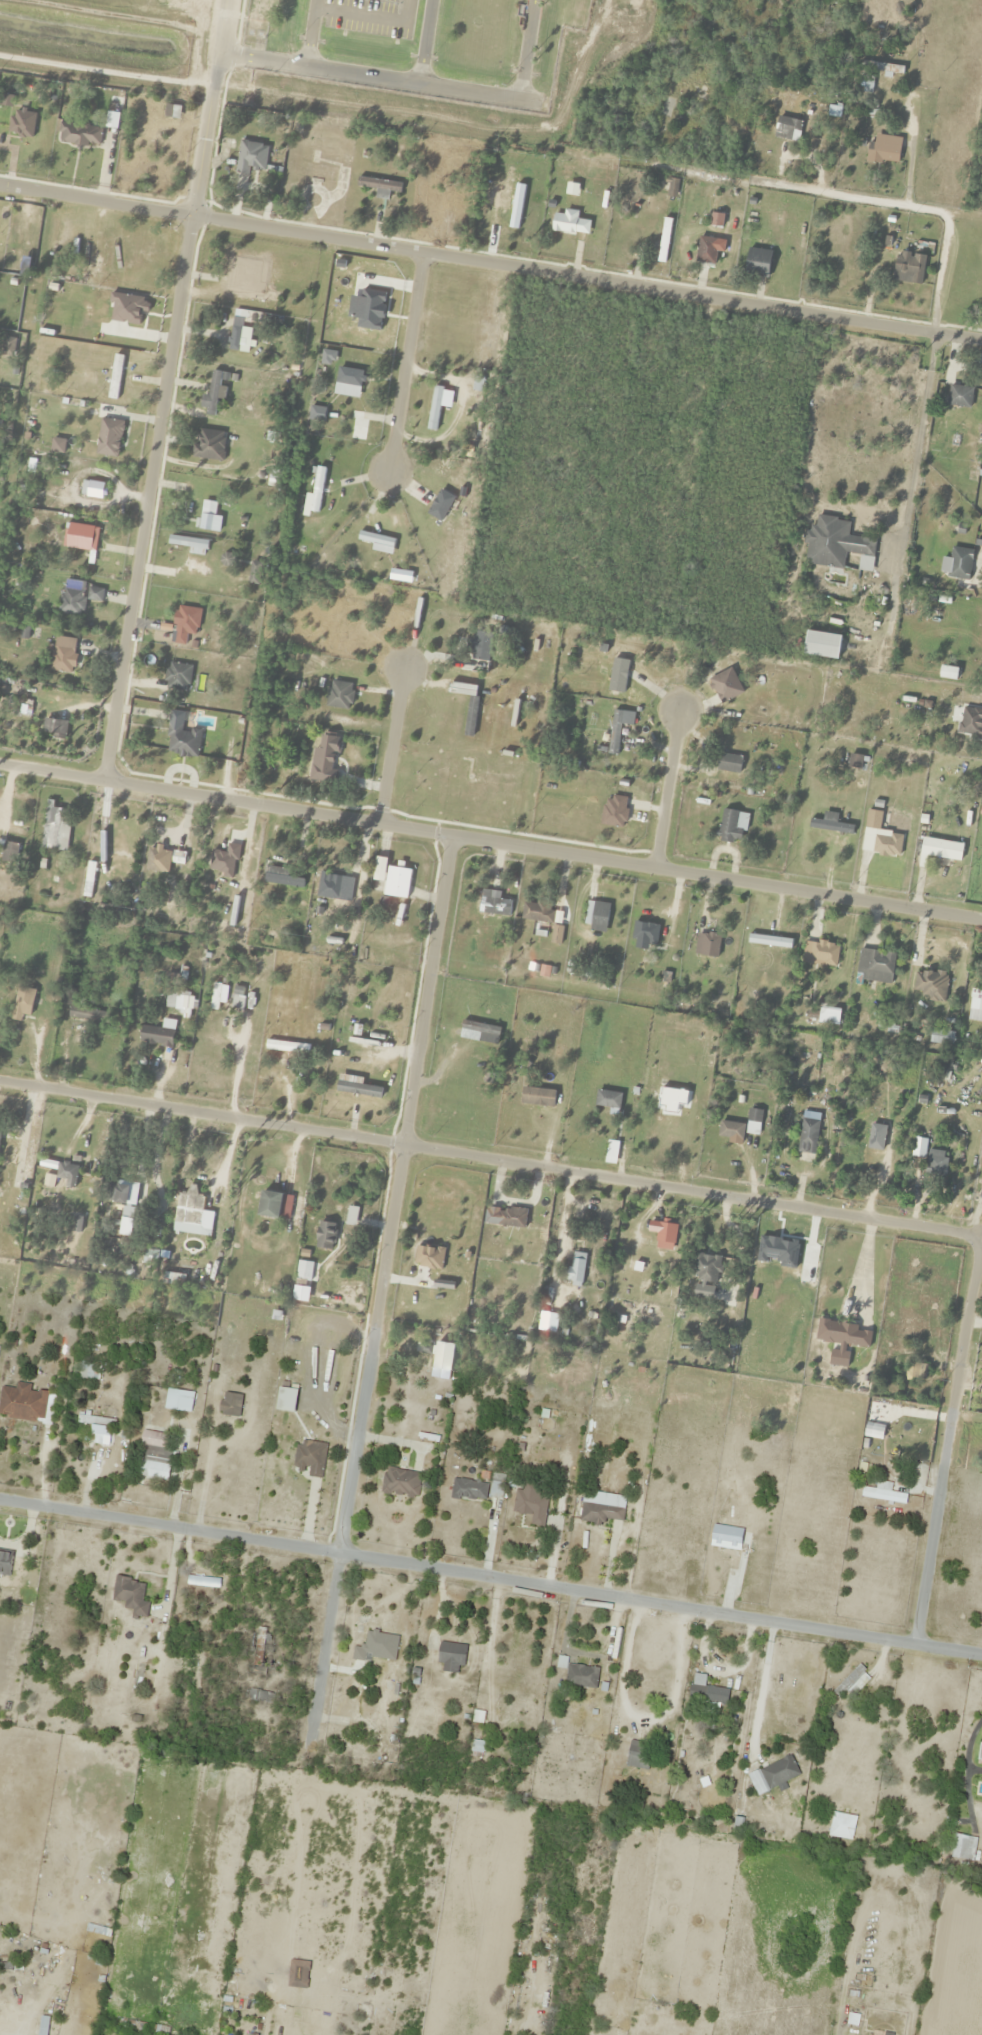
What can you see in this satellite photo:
road: (366, 12)
road: (308, 35)
road: (423, 44)
road: (522, 50)
building: (888, 68)
road: (373, 81)
building: (866, 86)
building: (686, 90)
road: (208, 108)
building: (787, 129)
building: (78, 134)
building: (882, 150)
building: (250, 157)
building: (379, 186)
building: (315, 190)
building: (500, 192)
road: (855, 199)
building: (565, 221)
building: (706, 250)
building: (757, 262)
road: (490, 265)
building: (908, 267)
building: (254, 294)
building: (239, 334)
road: (404, 365)
building: (114, 377)
building: (348, 382)
building: (212, 394)
building: (959, 396)
building: (434, 408)
building: (108, 438)
building: (208, 445)
building: (318, 479)
road: (147, 498)
building: (209, 522)
building: (79, 536)
building: (375, 539)
building: (189, 544)
building: (836, 544)
building: (226, 558)
building: (959, 564)
building: (254, 573)
building: (72, 597)
building: (185, 620)
building: (822, 644)
building: (481, 646)
building: (62, 659)
building: (614, 675)
building: (177, 677)
building: (339, 695)
building: (470, 716)
building: (970, 723)
building: (54, 728)
building: (614, 733)
building: (181, 737)
road: (391, 748)
building: (315, 755)
building: (729, 763)
road: (666, 792)
building: (614, 811)
building: (830, 824)
building: (728, 826)
building: (55, 829)
road: (490, 842)
building: (887, 845)
building: (939, 851)
building: (9, 852)
building: (175, 857)
building: (154, 860)
building: (280, 877)
building: (396, 883)
building: (334, 888)
building: (494, 907)
building: (536, 913)
building: (596, 916)
building: (644, 932)
building: (706, 945)
building: (819, 953)
building: (875, 966)
building: (170, 974)
building: (929, 985)
building: (214, 996)
building: (976, 996)
building: (237, 998)
building: (22, 1004)
building: (89, 1016)
building: (479, 1032)
building: (156, 1035)
building: (941, 1037)
building: (286, 1047)
building: (535, 1062)
building: (356, 1087)
building: (607, 1099)
building: (0, 1132)
building: (807, 1136)
road: (490, 1161)
building: (935, 1167)
building: (67, 1174)
building: (120, 1192)
building: (274, 1206)
building: (189, 1208)
building: (350, 1216)
building: (505, 1217)
building: (662, 1233)
building: (325, 1236)
building: (705, 1268)
building: (574, 1269)
road: (382, 1287)
building: (547, 1322)
building: (841, 1340)
building: (88, 1370)
building: (915, 1370)
building: (179, 1400)
building: (23, 1403)
building: (228, 1403)
building: (96, 1421)
road: (950, 1442)
building: (309, 1458)
building: (156, 1461)
building: (401, 1482)
building: (496, 1486)
building: (469, 1490)
building: (884, 1493)
building: (531, 1506)
building: (601, 1512)
building: (5, 1563)
road: (491, 1576)
building: (204, 1581)
building: (131, 1595)
building: (260, 1640)
building: (451, 1656)
building: (582, 1676)
building: (852, 1682)
building: (708, 1694)
building: (259, 1696)
building: (377, 1716)
building: (978, 1748)
building: (638, 1755)
building: (779, 1772)
building: (963, 1847)
building: (104, 1873)
building: (362, 1987)
building: (43, 2025)
building: (888, 2034)

